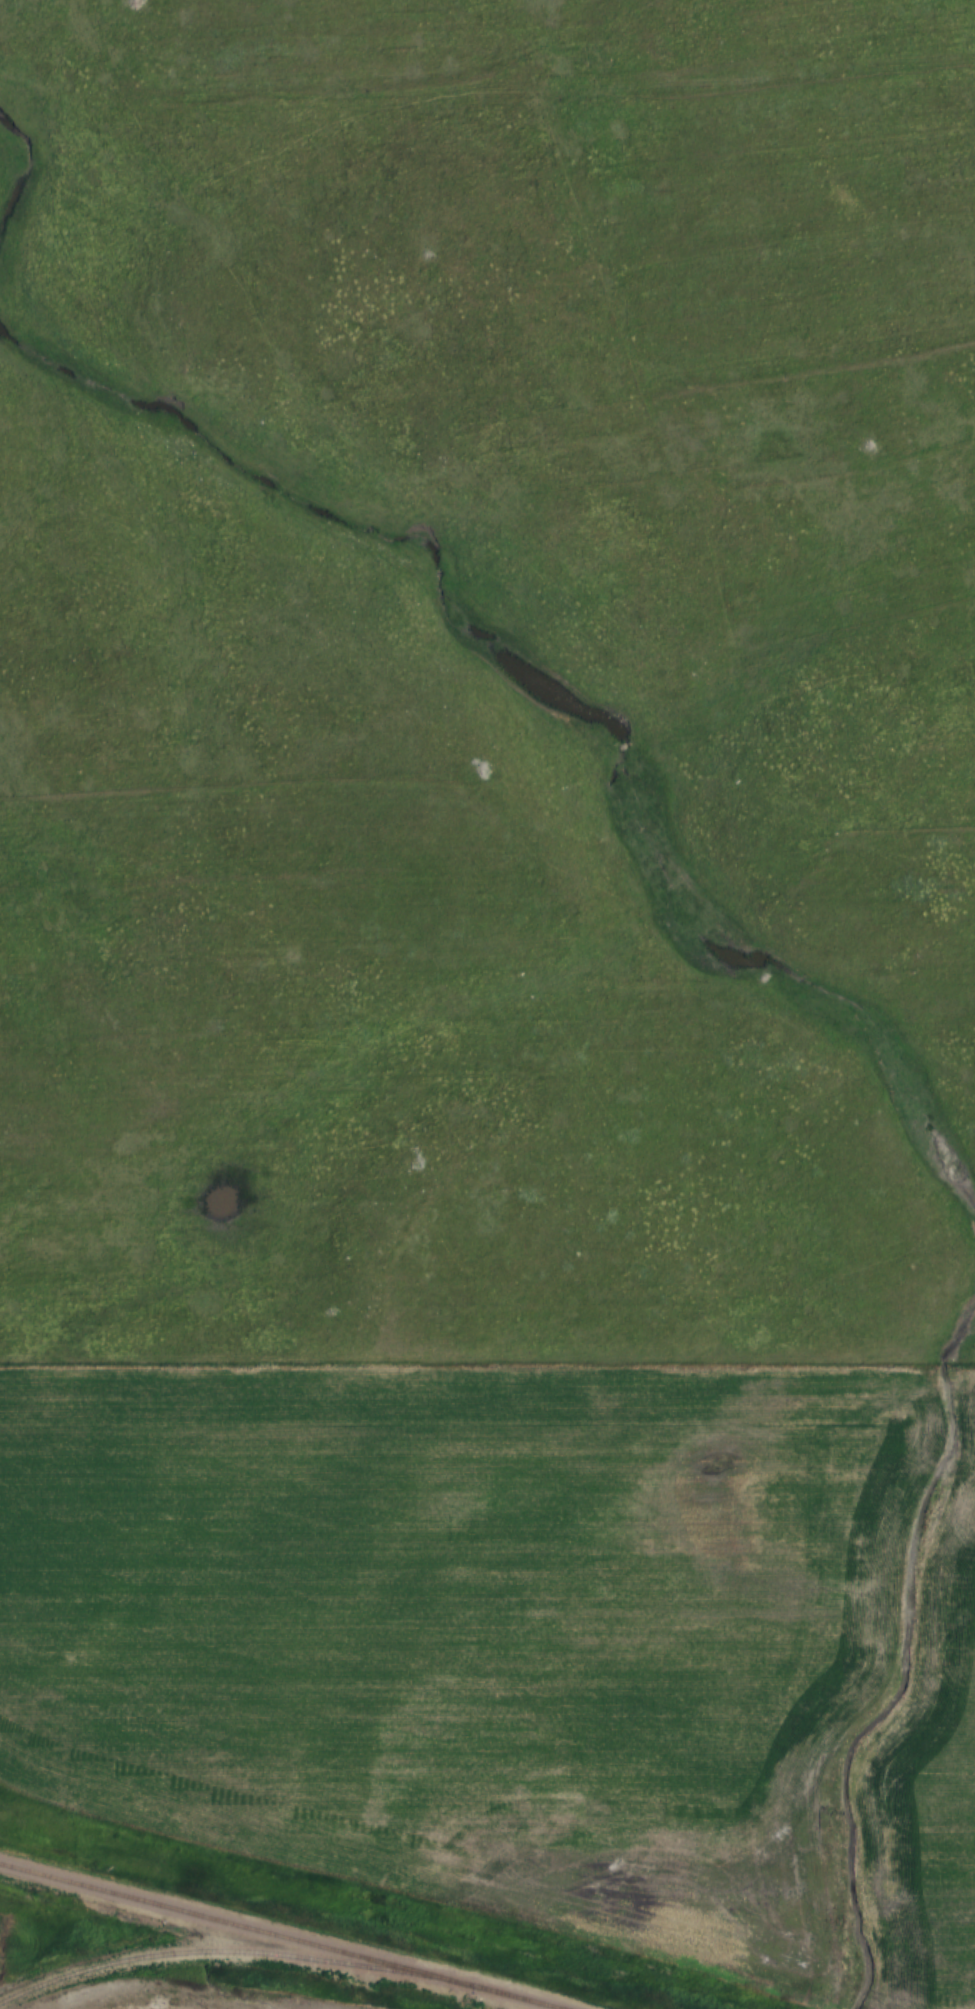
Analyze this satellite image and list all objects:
railway: (280, 1936)
railway: (234, 1952)

